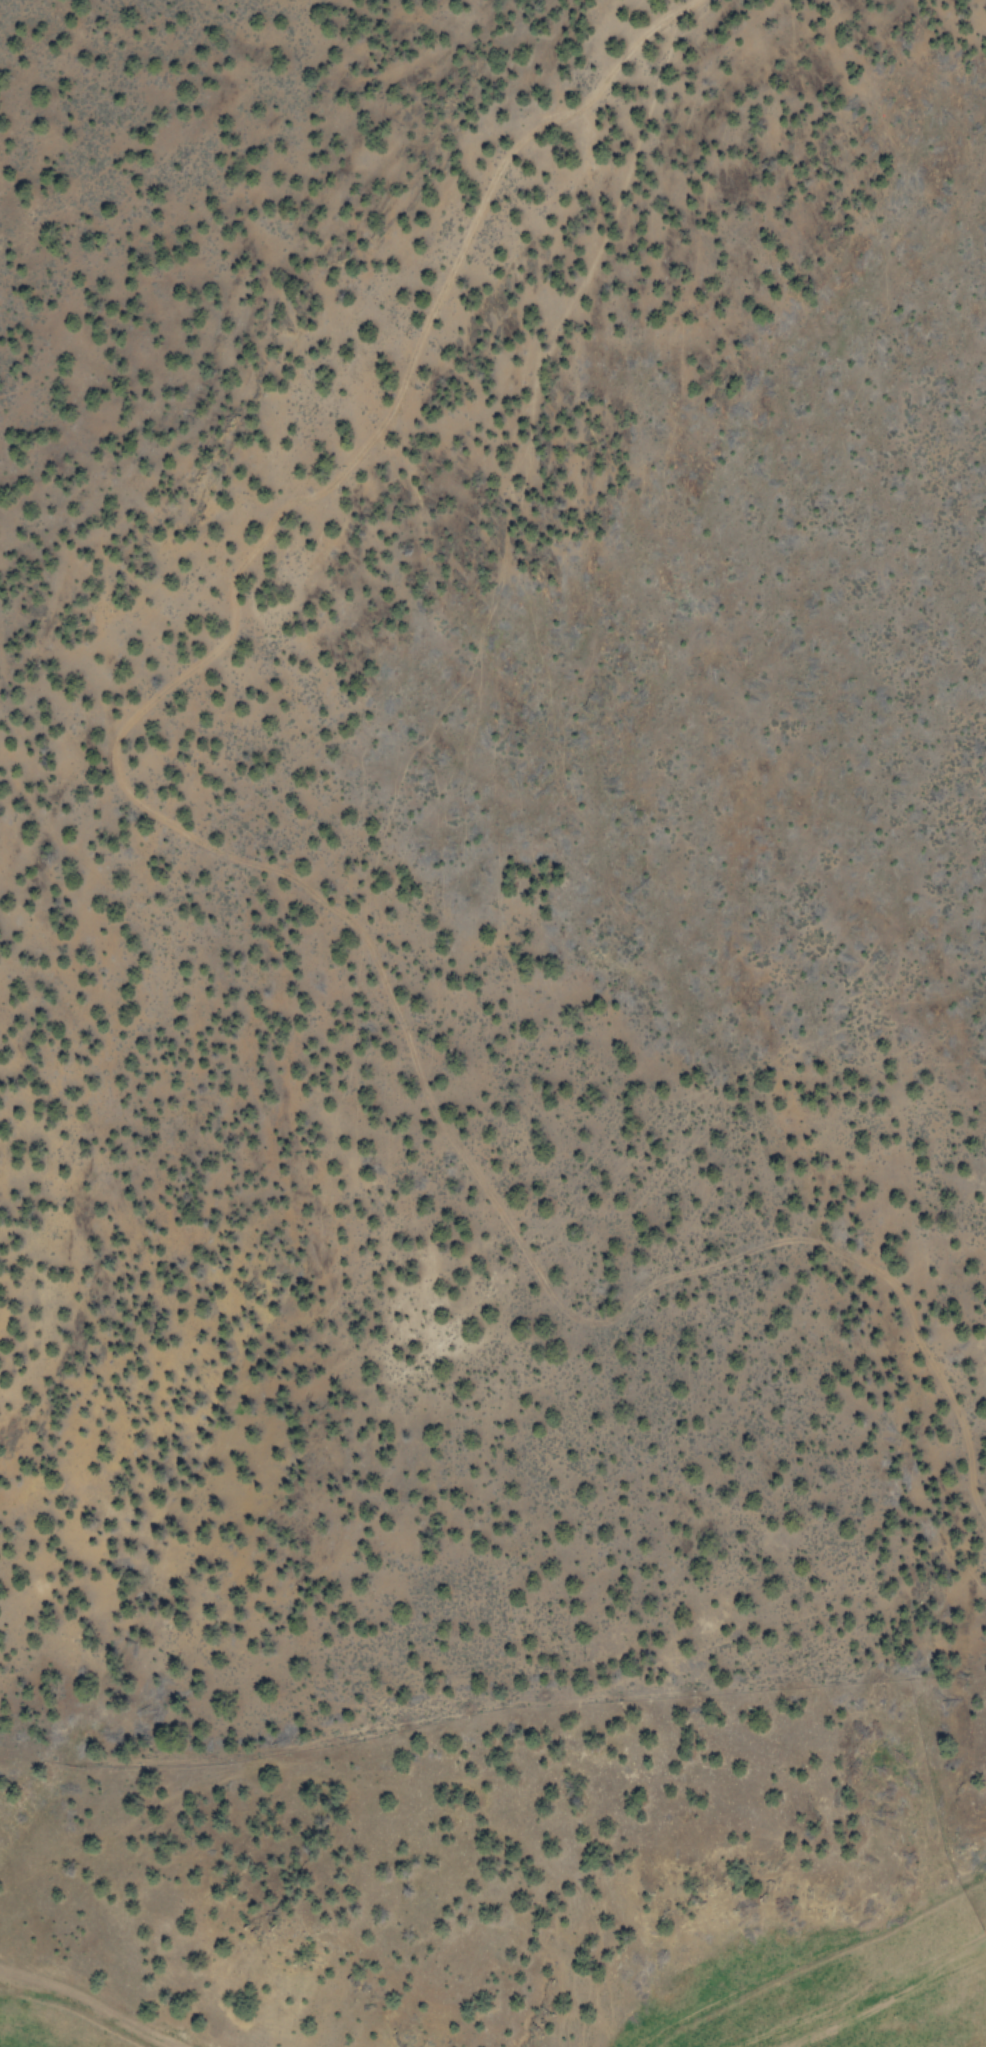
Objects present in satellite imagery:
road: (100, 2003)
road: (919, 2016)

